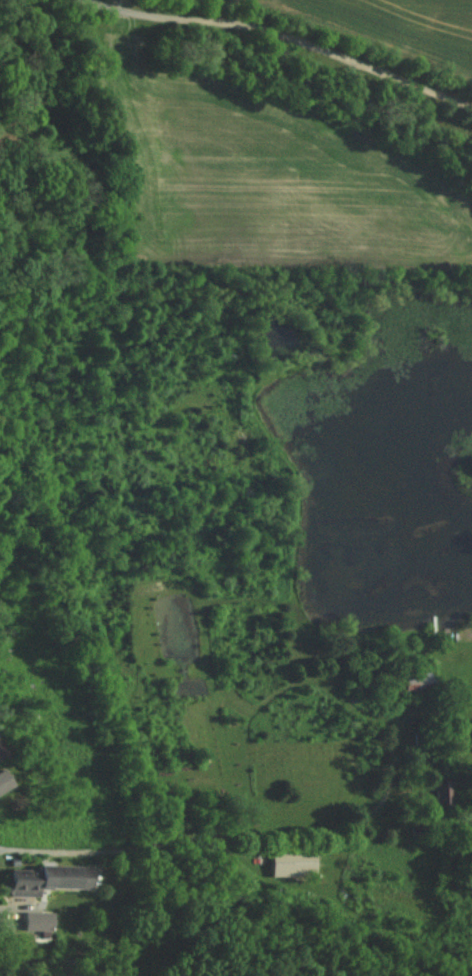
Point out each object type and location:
road: (286, 32)
building: (414, 683)
building: (0, 753)
building: (2, 782)
building: (441, 792)
road: (237, 832)
building: (292, 862)
building: (45, 879)
building: (41, 929)

